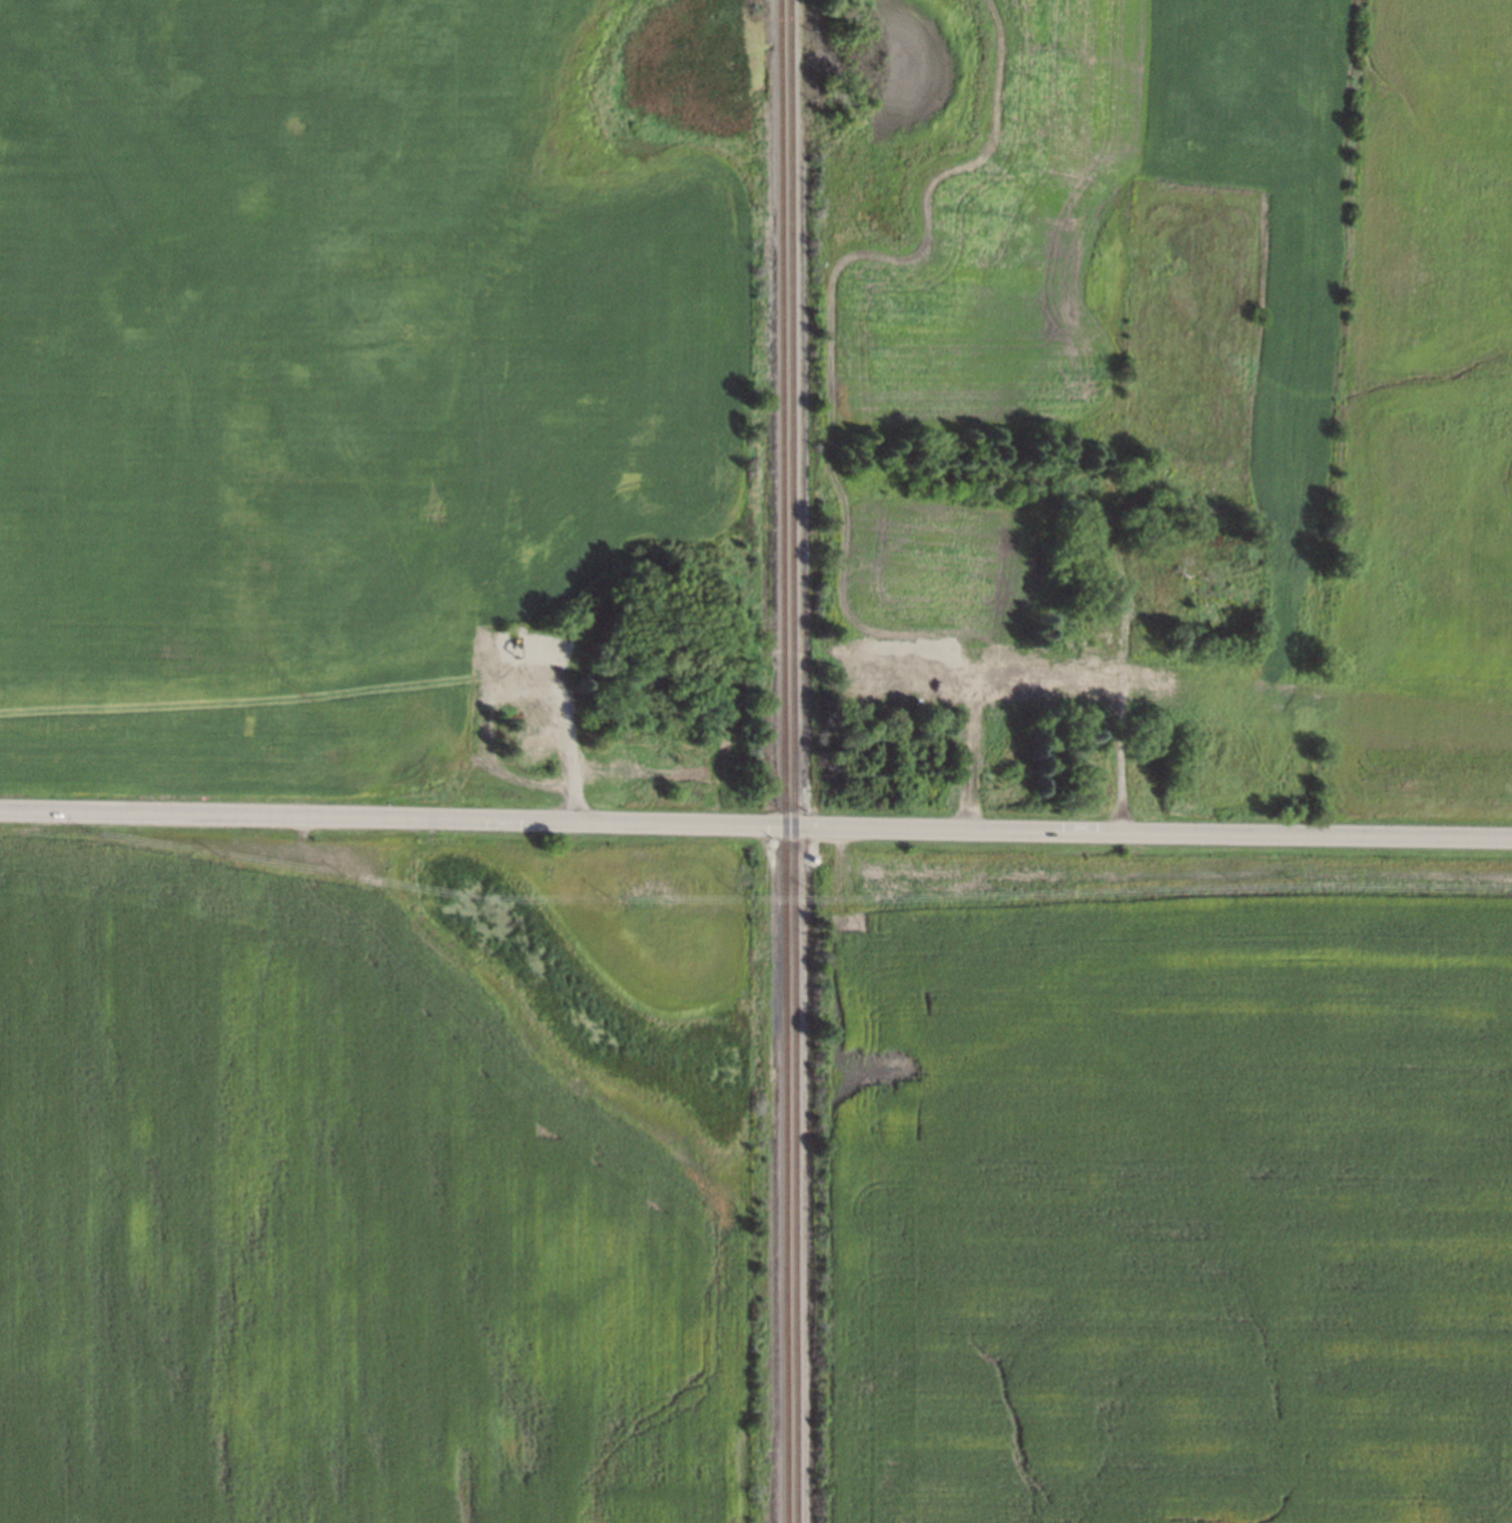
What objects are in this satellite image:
road: (1120, 694)
road: (570, 732)
railway: (783, 761)
railway: (793, 761)
road: (755, 825)
crop: (1175, 1213)
crop: (333, 1232)

